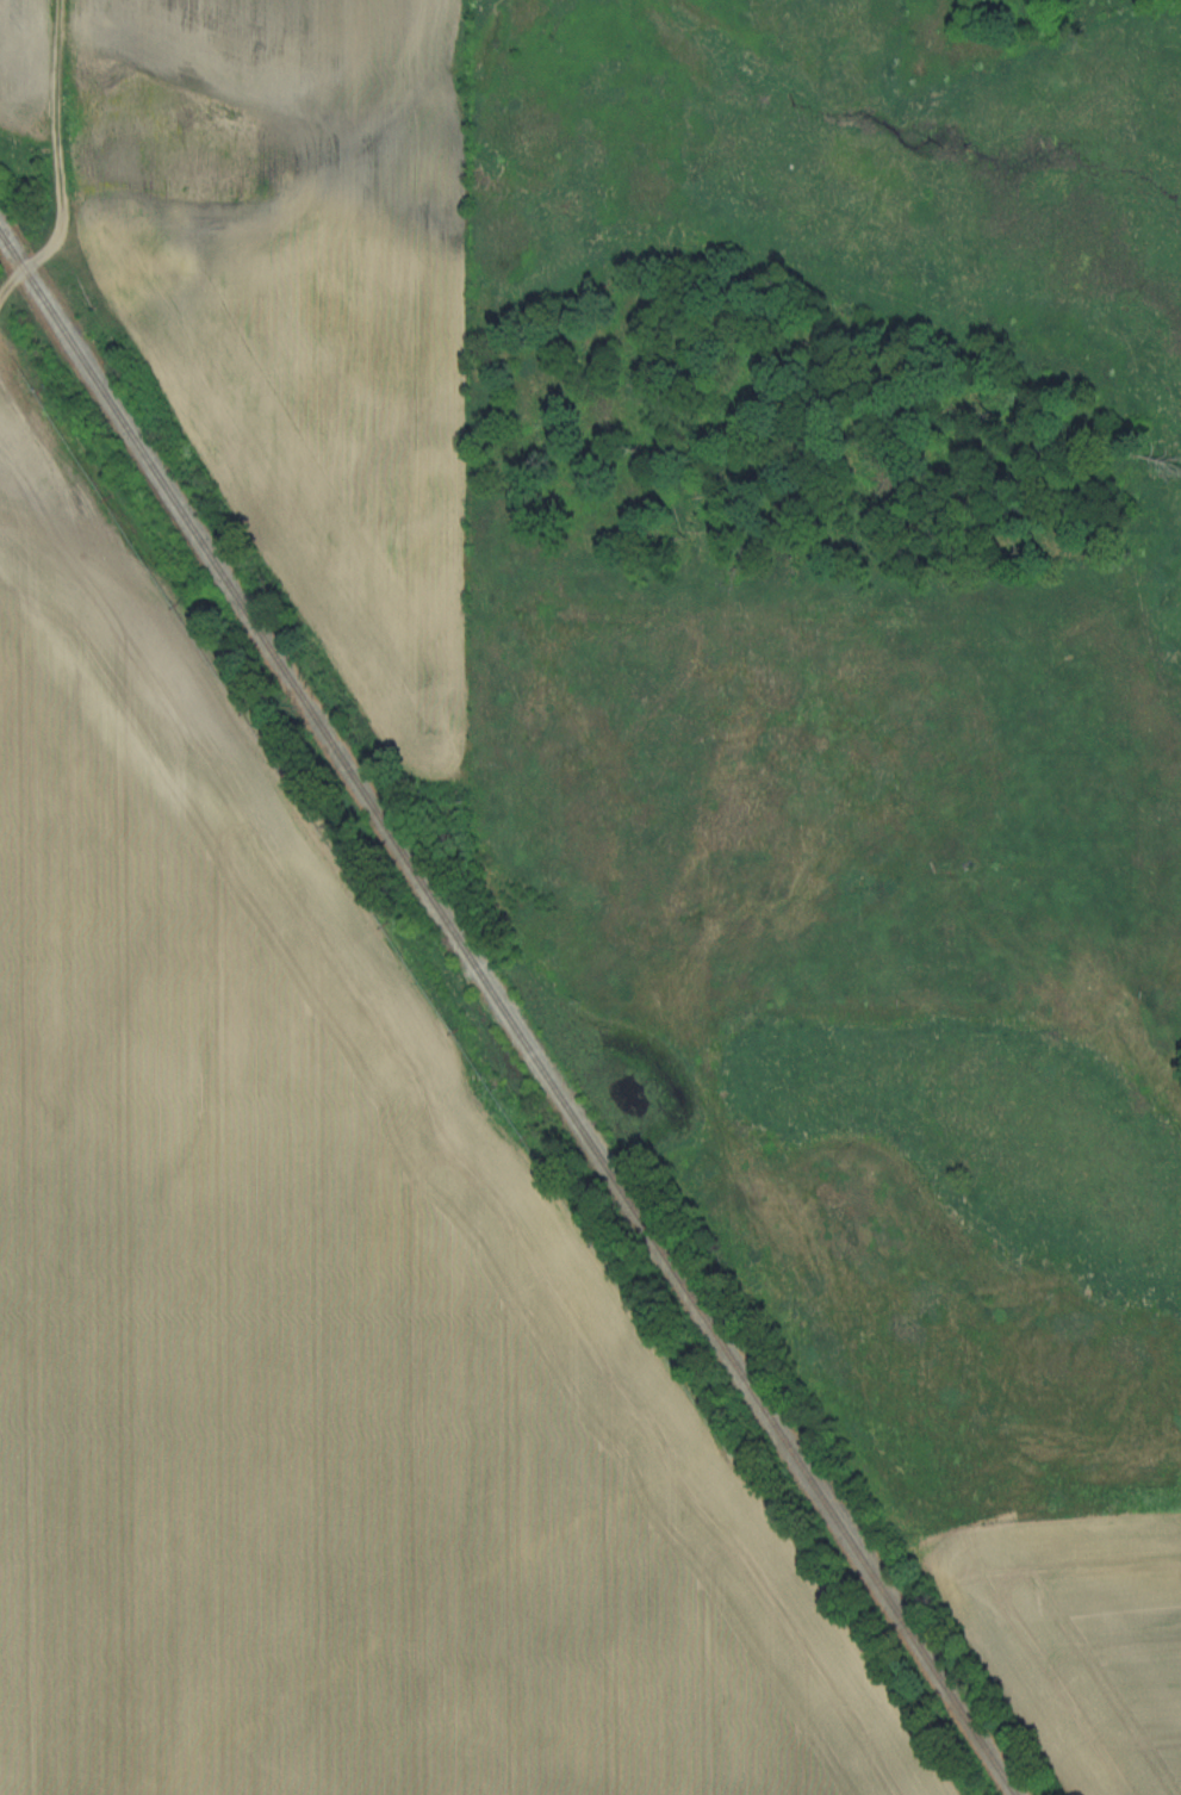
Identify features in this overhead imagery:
railway: (503, 1012)

